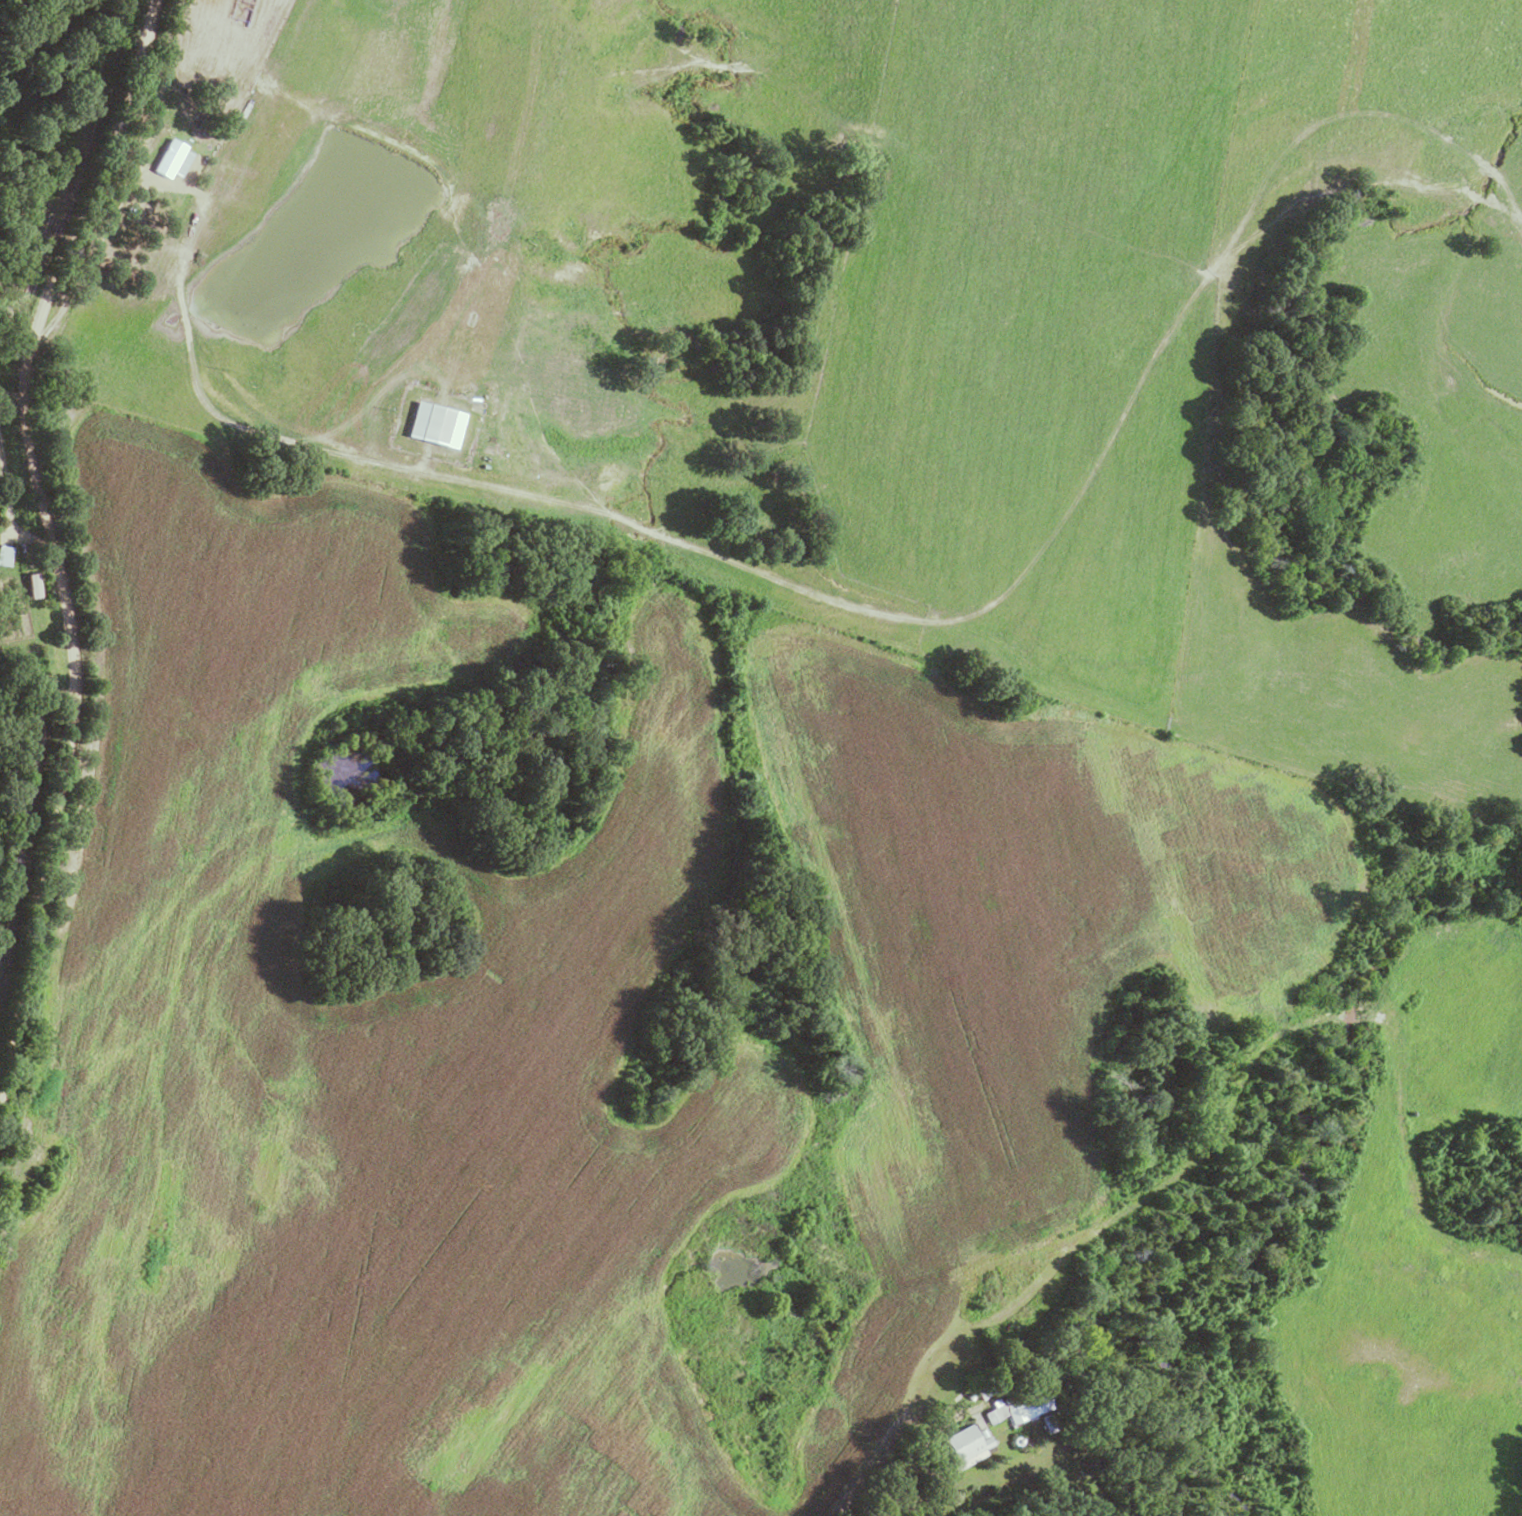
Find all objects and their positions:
building: (169, 160)
building: (432, 423)
road: (49, 545)
building: (3, 555)
building: (992, 1412)
building: (963, 1445)

